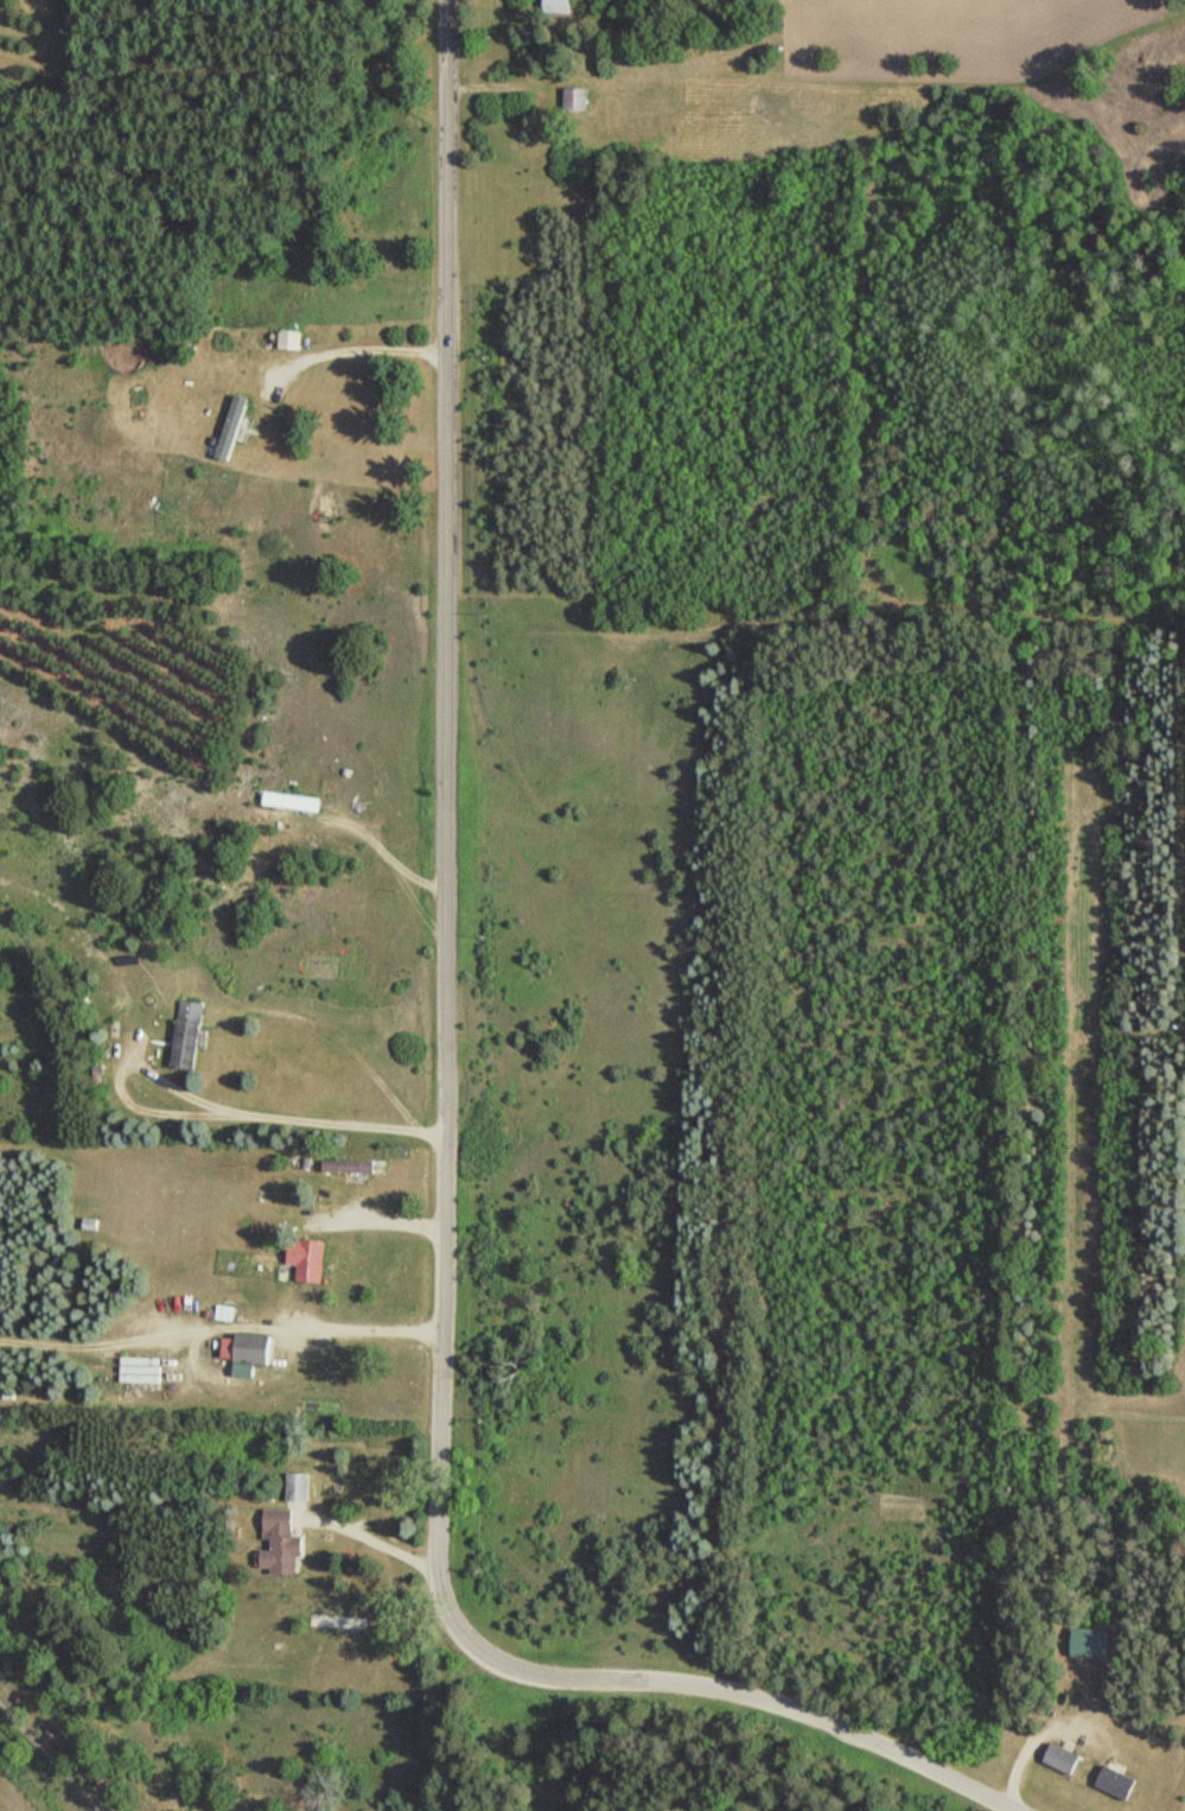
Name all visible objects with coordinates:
building: (555, 6)
building: (578, 100)
building: (291, 341)
road: (357, 347)
building: (232, 427)
building: (300, 802)
road: (348, 860)
road: (441, 978)
building: (189, 1035)
road: (199, 1113)
building: (350, 1165)
building: (91, 1225)
building: (307, 1259)
building: (249, 1348)
building: (141, 1370)
building: (298, 1487)
building: (281, 1543)
building: (1090, 1641)
road: (877, 1752)
building: (1060, 1758)
road: (46, 1759)
building: (1116, 1781)

